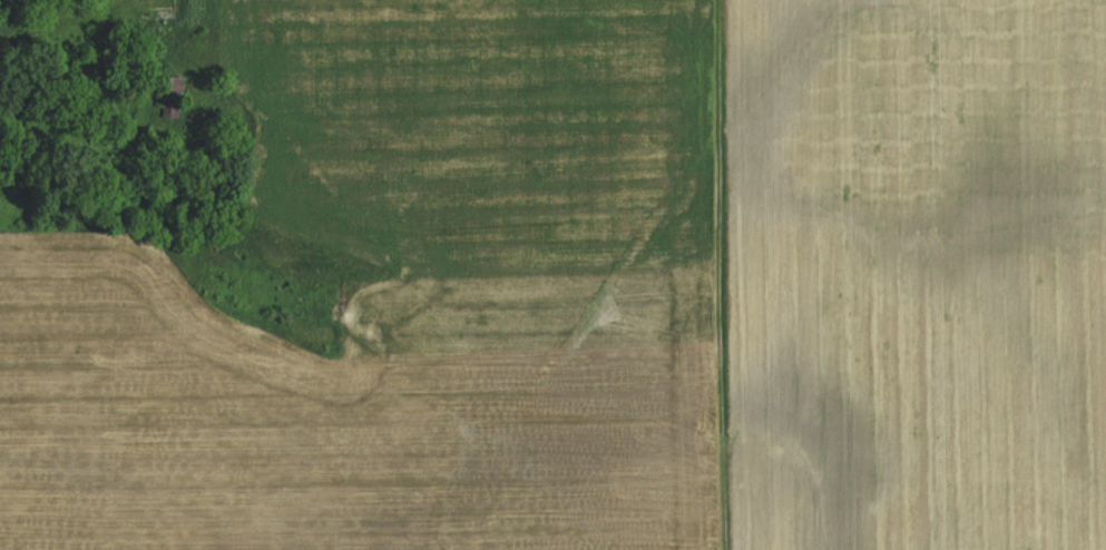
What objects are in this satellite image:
building: (170, 104)

